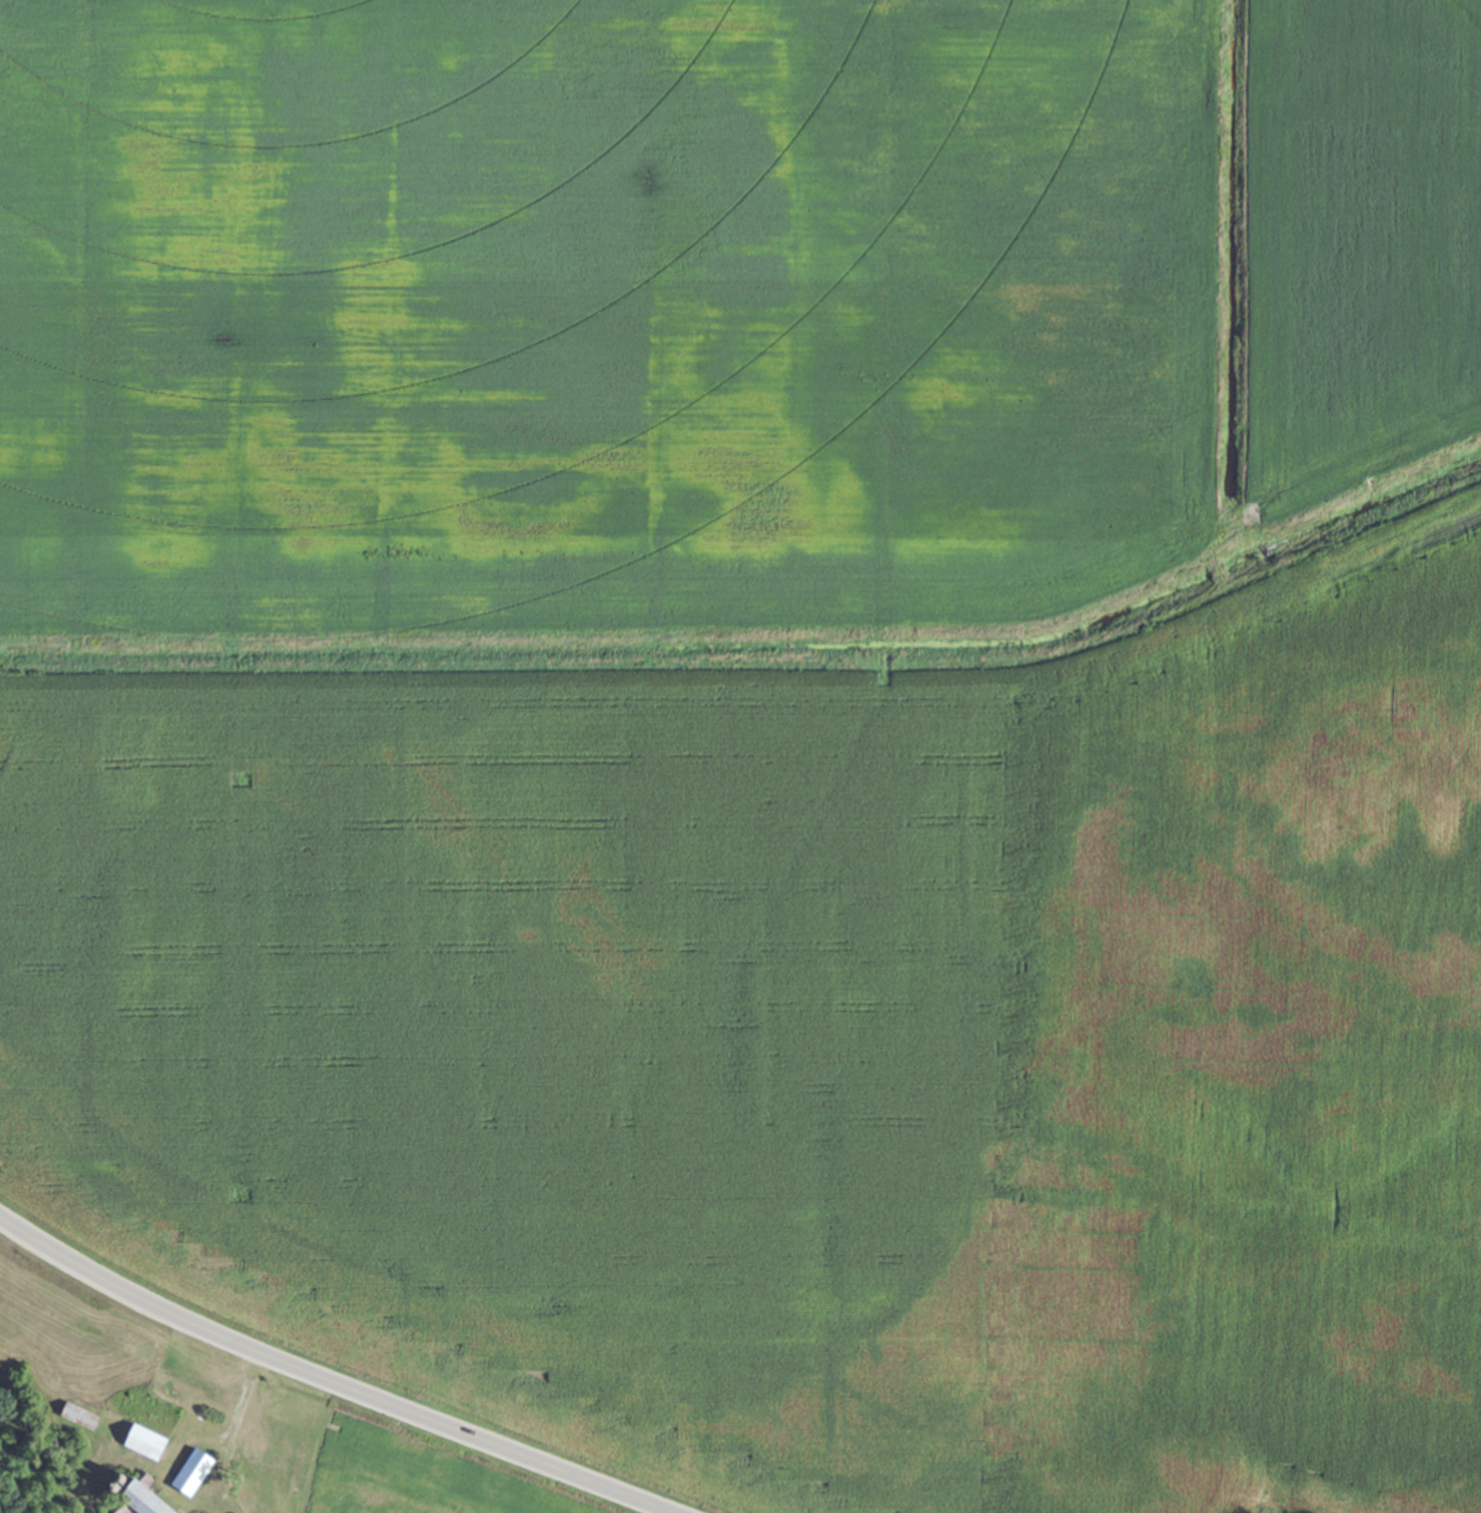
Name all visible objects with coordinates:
road: (334, 1375)
building: (77, 1416)
building: (144, 1443)
building: (191, 1472)
building: (139, 1501)

